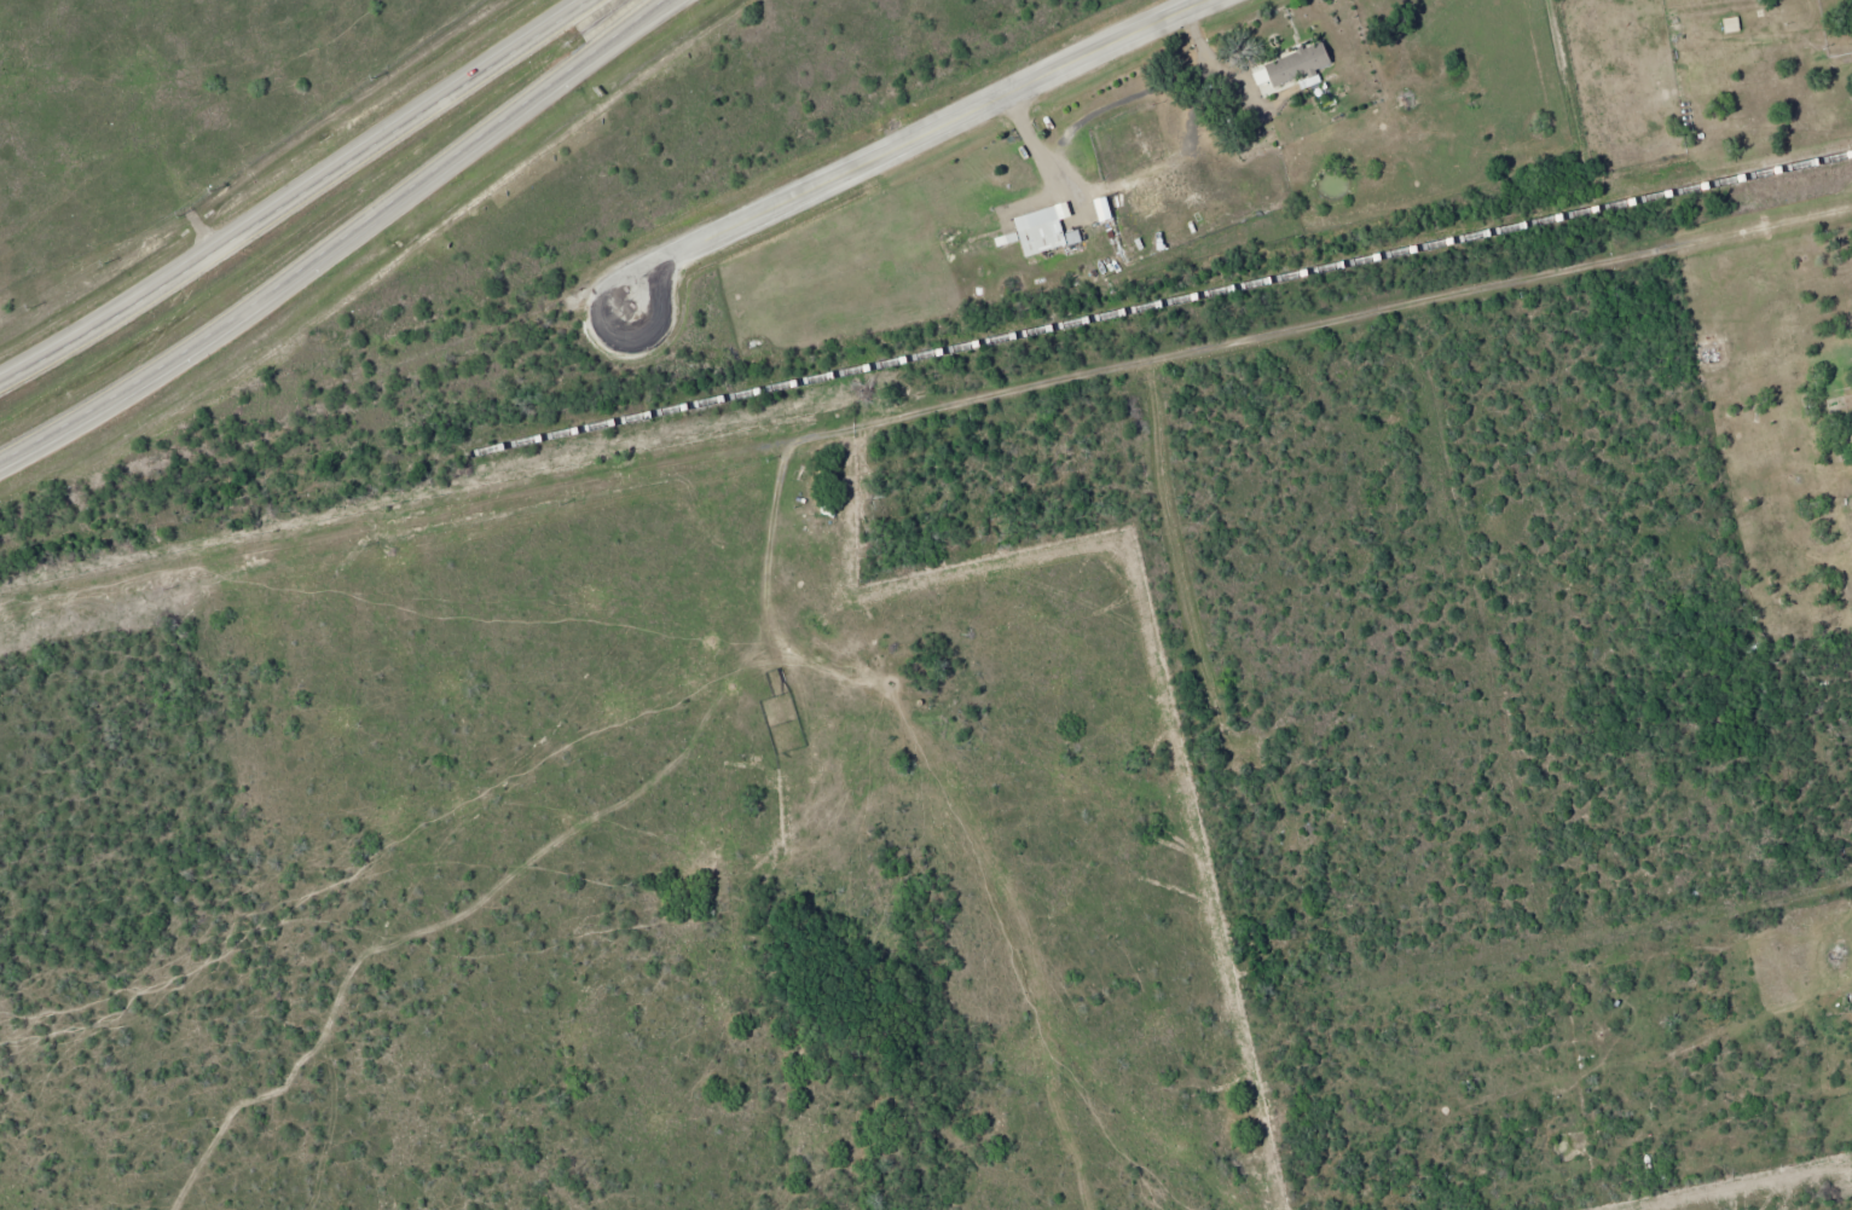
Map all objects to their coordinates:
road: (671, 4)
building: (1301, 63)
road: (901, 137)
road: (300, 190)
building: (1042, 231)
road: (343, 241)
railway: (1157, 301)
railway: (232, 509)
building: (1851, 1000)

